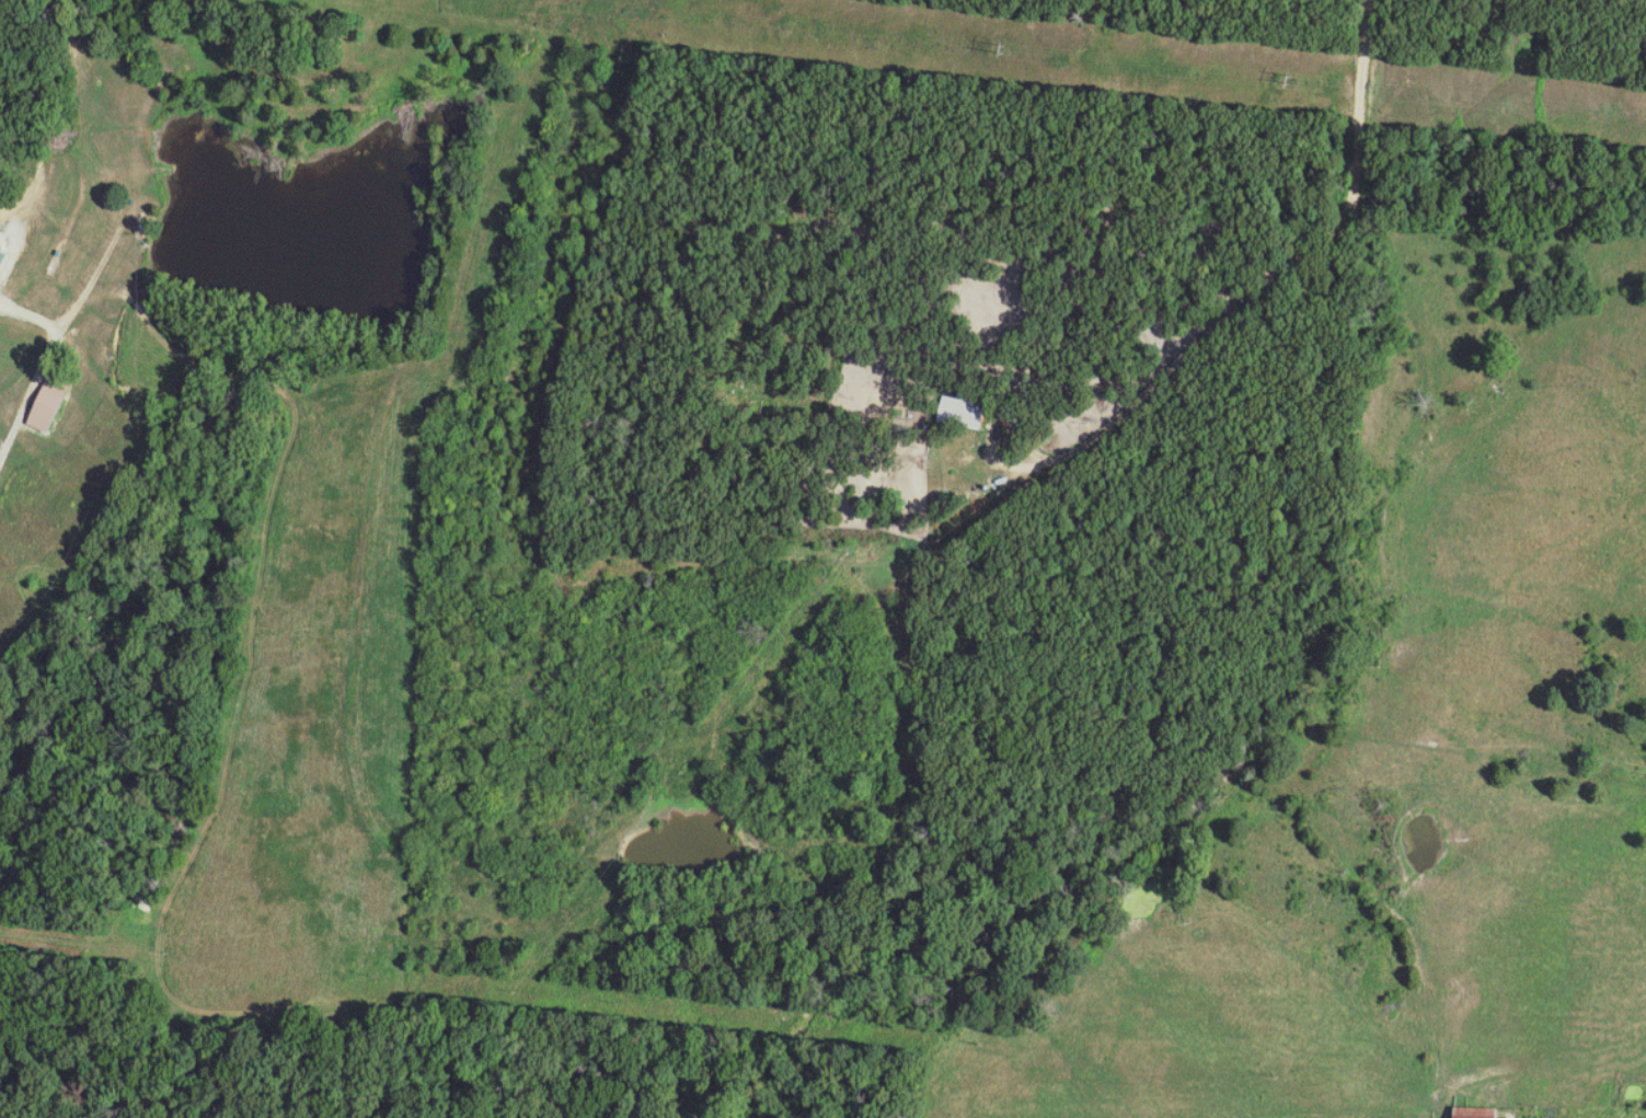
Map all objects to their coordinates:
building: (3, 261)
road: (1279, 267)
road: (31, 315)
road: (58, 334)
building: (55, 406)
building: (969, 414)
building: (1470, 1113)

